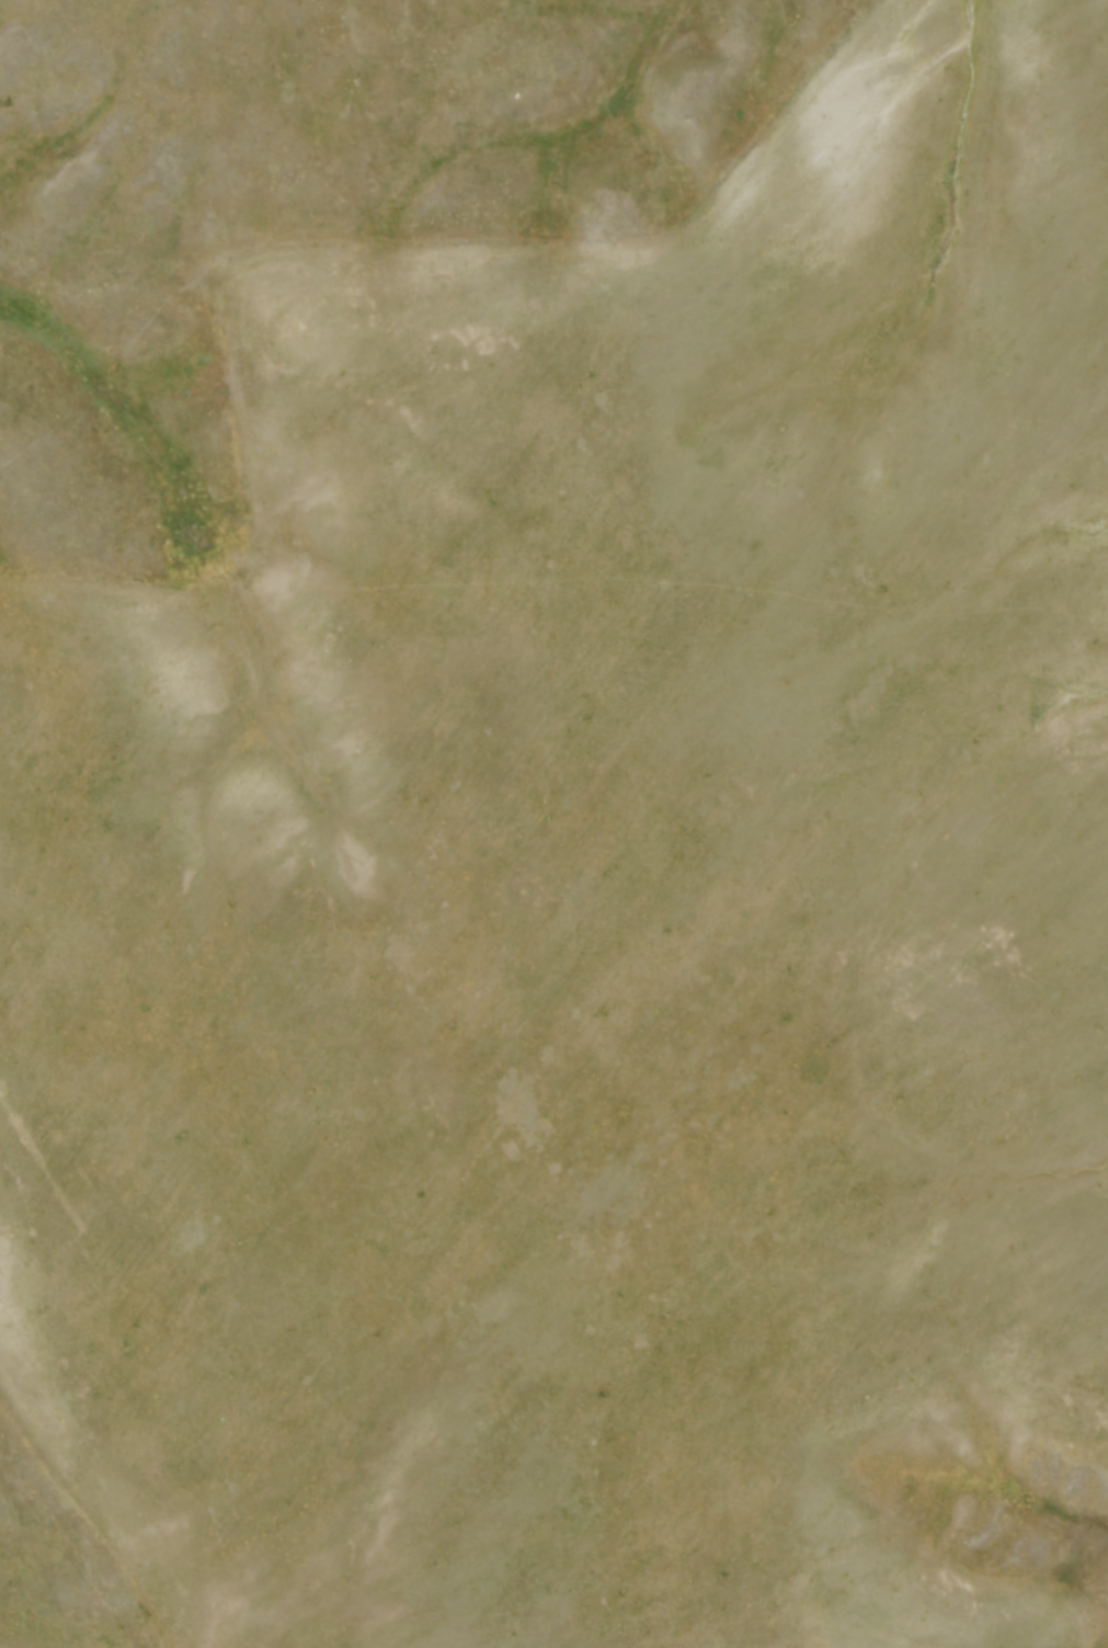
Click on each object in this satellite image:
crop: (598, 913)

